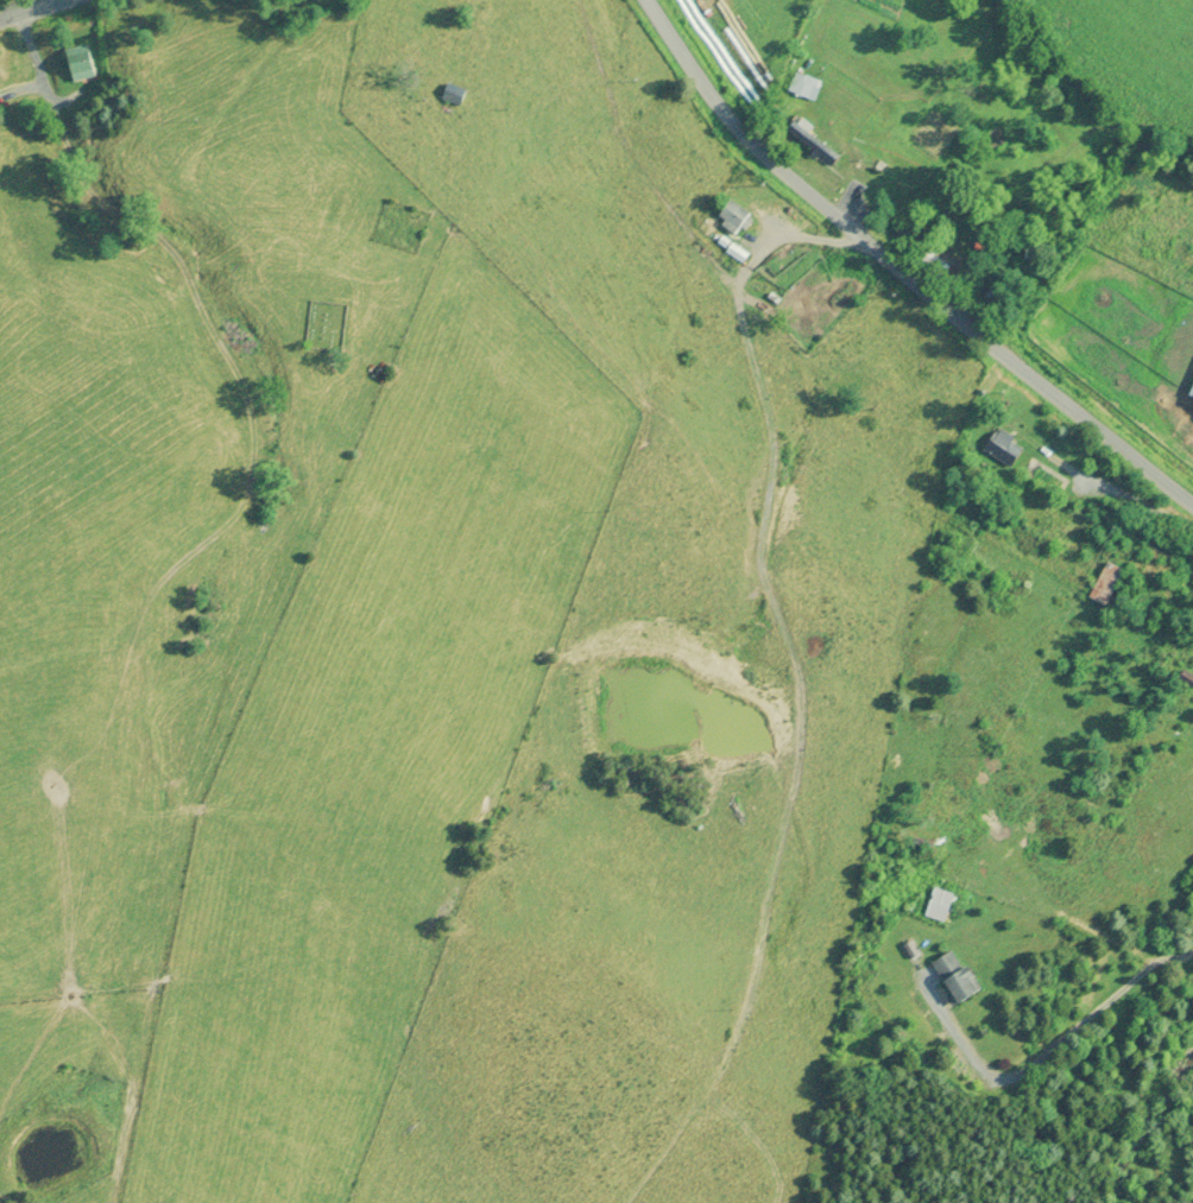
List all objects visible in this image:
road: (30, 10)
building: (803, 86)
building: (731, 214)
road: (900, 271)
building: (1189, 394)
building: (1002, 447)
building: (1104, 583)
building: (936, 905)
building: (952, 976)
road: (1044, 1060)

